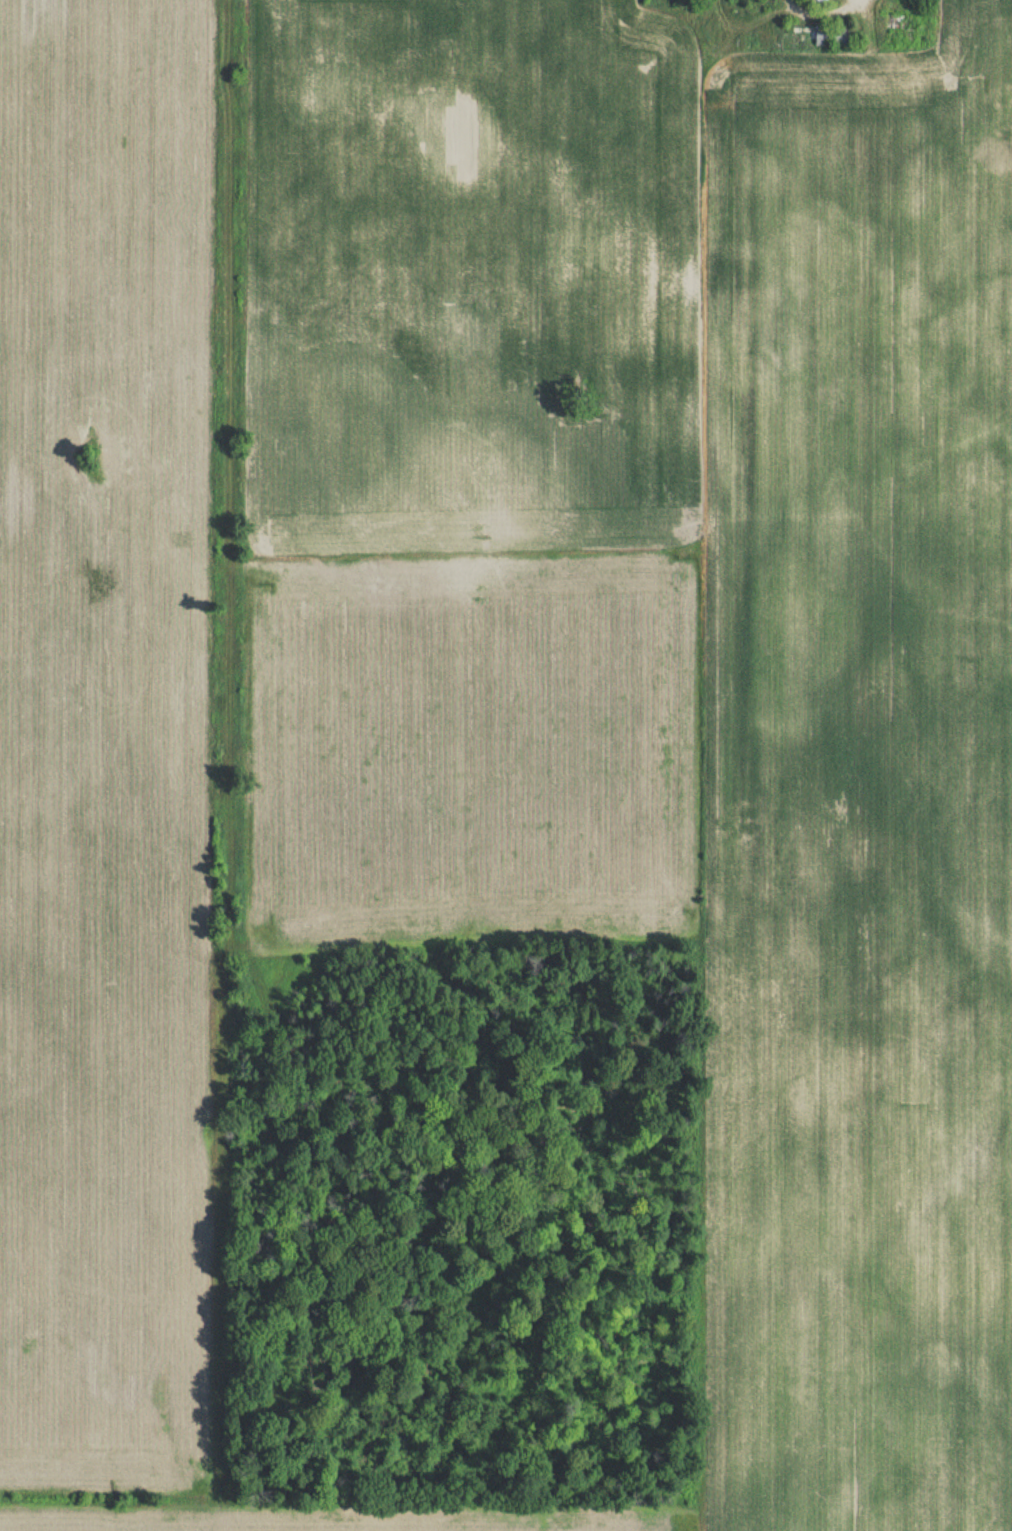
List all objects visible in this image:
building: (811, 2)
building: (828, 40)

